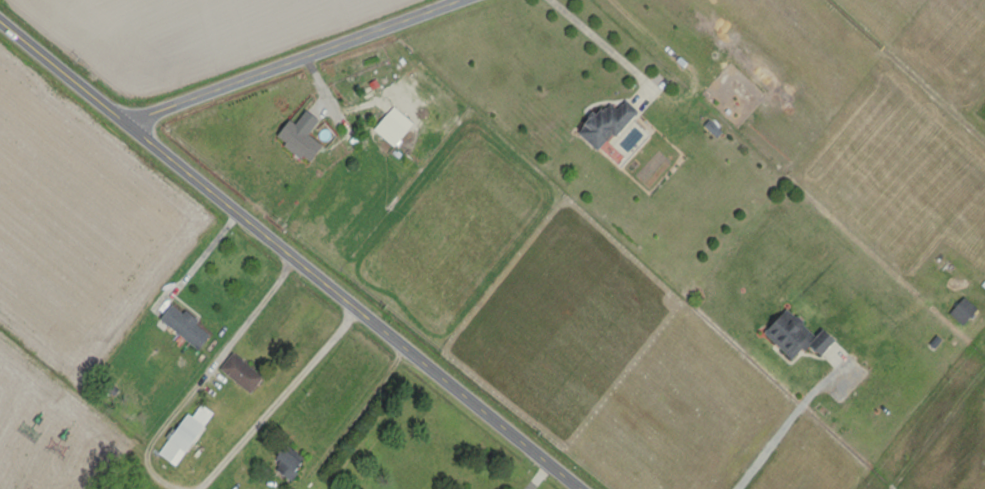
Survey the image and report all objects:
road: (595, 43)
road: (305, 64)
building: (603, 123)
road: (192, 252)
road: (289, 255)
building: (961, 310)
building: (182, 326)
building: (793, 335)
building: (238, 372)
road: (201, 374)
road: (274, 399)
road: (782, 429)
building: (182, 435)
building: (285, 461)
road: (526, 471)

